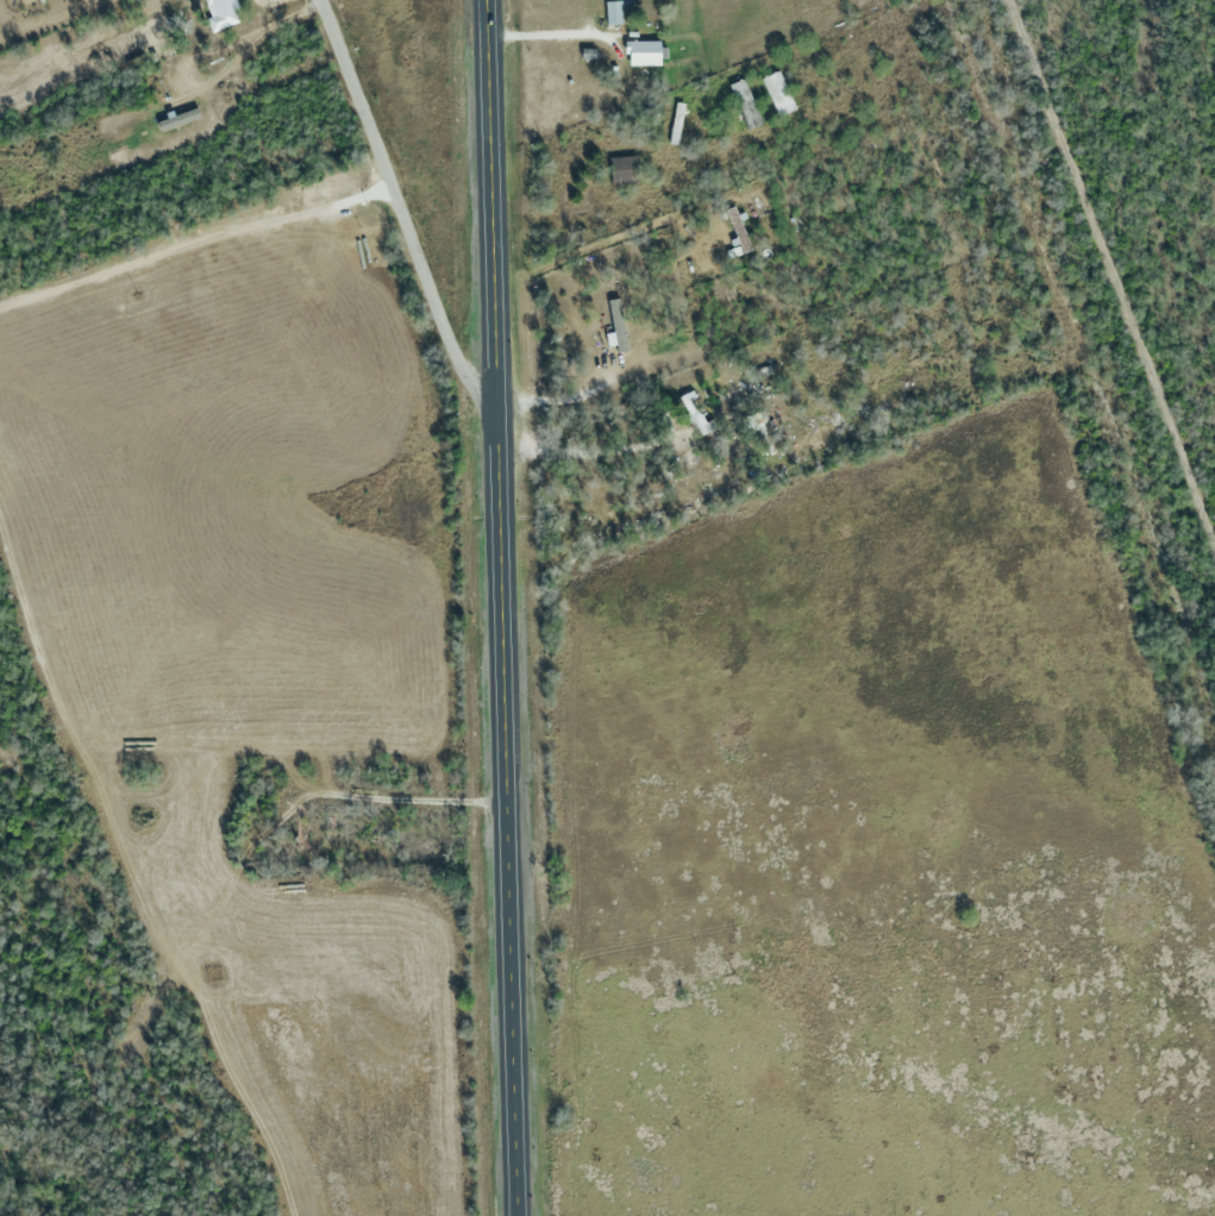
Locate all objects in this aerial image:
building: (221, 12)
building: (614, 13)
building: (643, 52)
building: (676, 123)
building: (624, 170)
road: (400, 218)
building: (737, 228)
building: (618, 272)
road: (1115, 272)
road: (503, 607)

